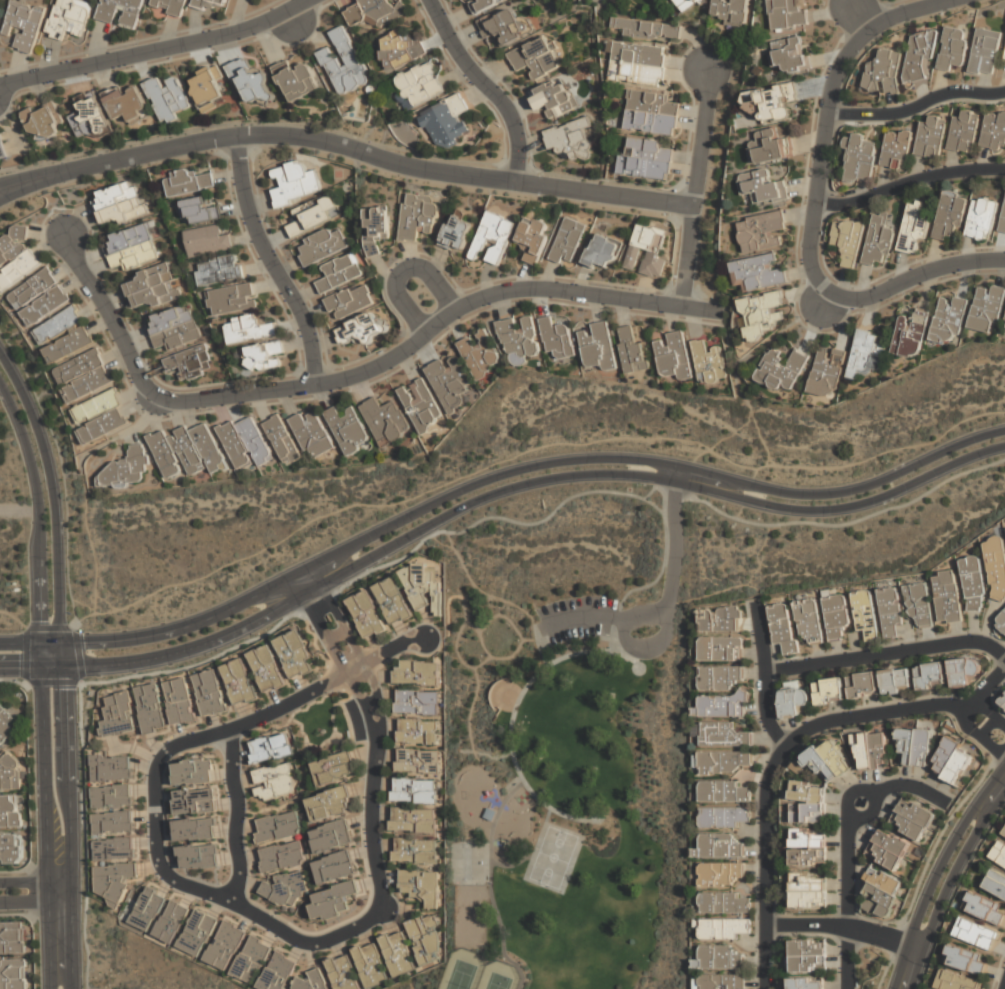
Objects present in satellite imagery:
building: (688, 3)
building: (212, 4)
building: (482, 5)
building: (170, 6)
building: (120, 11)
building: (380, 11)
building: (731, 11)
building: (787, 13)
building: (354, 15)
building: (69, 17)
road: (890, 18)
building: (24, 24)
building: (503, 27)
building: (646, 29)
building: (952, 48)
building: (398, 49)
road: (157, 50)
building: (985, 51)
building: (789, 53)
building: (919, 54)
building: (536, 57)
building: (1004, 57)
building: (344, 63)
building: (637, 63)
building: (883, 72)
building: (297, 79)
building: (251, 82)
building: (420, 83)
road: (489, 86)
building: (208, 88)
building: (168, 97)
building: (552, 98)
building: (125, 103)
building: (769, 104)
road: (918, 104)
building: (651, 113)
building: (88, 116)
building: (43, 120)
building: (446, 121)
building: (994, 130)
building: (964, 132)
building: (931, 136)
road: (701, 138)
building: (569, 140)
building: (772, 145)
building: (2, 148)
building: (896, 149)
road: (354, 151)
road: (824, 155)
building: (859, 158)
building: (645, 159)
road: (910, 180)
building: (190, 182)
building: (295, 183)
road: (8, 184)
building: (763, 186)
road: (8, 191)
building: (119, 202)
building: (199, 210)
building: (950, 214)
building: (314, 215)
building: (418, 216)
building: (982, 218)
building: (1002, 221)
building: (914, 227)
building: (375, 228)
building: (761, 231)
building: (456, 232)
building: (492, 237)
building: (531, 238)
building: (879, 238)
building: (206, 241)
building: (568, 241)
building: (847, 241)
building: (322, 245)
building: (132, 246)
building: (646, 250)
building: (601, 251)
building: (16, 257)
road: (688, 257)
road: (274, 260)
building: (219, 270)
building: (339, 272)
road: (404, 272)
building: (757, 272)
road: (905, 278)
building: (153, 286)
building: (38, 297)
building: (232, 299)
building: (349, 301)
building: (987, 308)
road: (700, 309)
building: (762, 314)
building: (948, 318)
road: (111, 322)
building: (58, 325)
building: (173, 327)
building: (1004, 328)
building: (248, 329)
building: (361, 329)
building: (910, 334)
building: (519, 336)
building: (557, 338)
road: (414, 343)
building: (68, 345)
building: (598, 346)
building: (631, 350)
building: (479, 353)
building: (865, 354)
building: (263, 355)
building: (673, 355)
building: (190, 362)
building: (709, 362)
building: (783, 369)
building: (827, 372)
building: (83, 374)
building: (449, 381)
building: (420, 404)
building: (100, 416)
building: (385, 418)
building: (347, 429)
building: (312, 432)
building: (282, 439)
building: (245, 442)
building: (186, 451)
building: (126, 467)
road: (521, 468)
road: (62, 473)
road: (677, 475)
road: (51, 494)
road: (844, 507)
road: (19, 510)
road: (38, 521)
road: (824, 523)
road: (429, 536)
road: (357, 563)
building: (995, 566)
road: (673, 568)
road: (305, 581)
building: (972, 583)
building: (422, 585)
building: (946, 596)
building: (393, 601)
building: (919, 605)
building: (890, 610)
building: (366, 614)
building: (836, 615)
building: (865, 615)
road: (577, 616)
parking lot: (577, 617)
building: (720, 619)
building: (809, 620)
building: (1000, 621)
building: (783, 627)
road: (29, 644)
road: (651, 649)
building: (722, 649)
road: (888, 652)
building: (295, 654)
road: (20, 667)
building: (266, 668)
building: (963, 670)
building: (417, 672)
road: (768, 673)
building: (931, 675)
building: (719, 677)
building: (896, 680)
building: (239, 681)
road: (78, 682)
road: (12, 683)
building: (862, 684)
road: (986, 687)
building: (829, 691)
building: (209, 694)
building: (417, 701)
building: (793, 701)
building: (1002, 701)
building: (178, 703)
building: (723, 705)
building: (151, 710)
road: (968, 710)
road: (874, 712)
building: (117, 715)
road: (250, 721)
road: (996, 721)
building: (5, 724)
building: (417, 731)
building: (724, 735)
park: (565, 743)
road: (988, 745)
building: (914, 746)
building: (270, 748)
building: (871, 751)
building: (828, 760)
building: (951, 760)
building: (417, 761)
building: (724, 762)
building: (334, 768)
building: (110, 769)
building: (10, 772)
building: (192, 772)
building: (273, 781)
road: (912, 786)
building: (413, 790)
building: (723, 791)
building: (111, 796)
building: (194, 801)
building: (329, 803)
building: (808, 803)
building: (10, 811)
road: (869, 814)
road: (68, 815)
road: (237, 816)
building: (726, 817)
building: (911, 818)
building: (413, 820)
building: (113, 823)
road: (45, 827)
building: (276, 827)
building: (194, 829)
building: (1003, 831)
road: (84, 835)
building: (330, 836)
building: (720, 846)
building: (11, 848)
building: (113, 848)
building: (809, 848)
building: (887, 849)
building: (414, 851)
building: (998, 853)
building: (198, 856)
building: (280, 857)
park: (552, 857)
road: (929, 858)
road: (763, 862)
building: (332, 867)
road: (937, 870)
road: (376, 873)
building: (722, 874)
building: (114, 881)
building: (995, 883)
road: (947, 884)
building: (421, 886)
road: (34, 890)
building: (283, 890)
building: (809, 890)
building: (881, 893)
road: (847, 901)
building: (726, 902)
building: (331, 903)
building: (984, 907)
building: (147, 908)
building: (171, 920)
road: (820, 925)
building: (724, 929)
building: (197, 932)
building: (976, 933)
building: (12, 937)
building: (426, 939)
road: (898, 943)
building: (225, 945)
building: (397, 953)
building: (807, 956)
building: (720, 957)
building: (965, 960)
building: (249, 961)
park: (141, 962)
building: (370, 964)
park: (464, 970)
building: (278, 972)
building: (342, 972)
building: (13, 974)
park: (500, 976)
building: (310, 980)
building: (724, 981)
building: (955, 981)
building: (805, 983)
road: (1004, 987)

